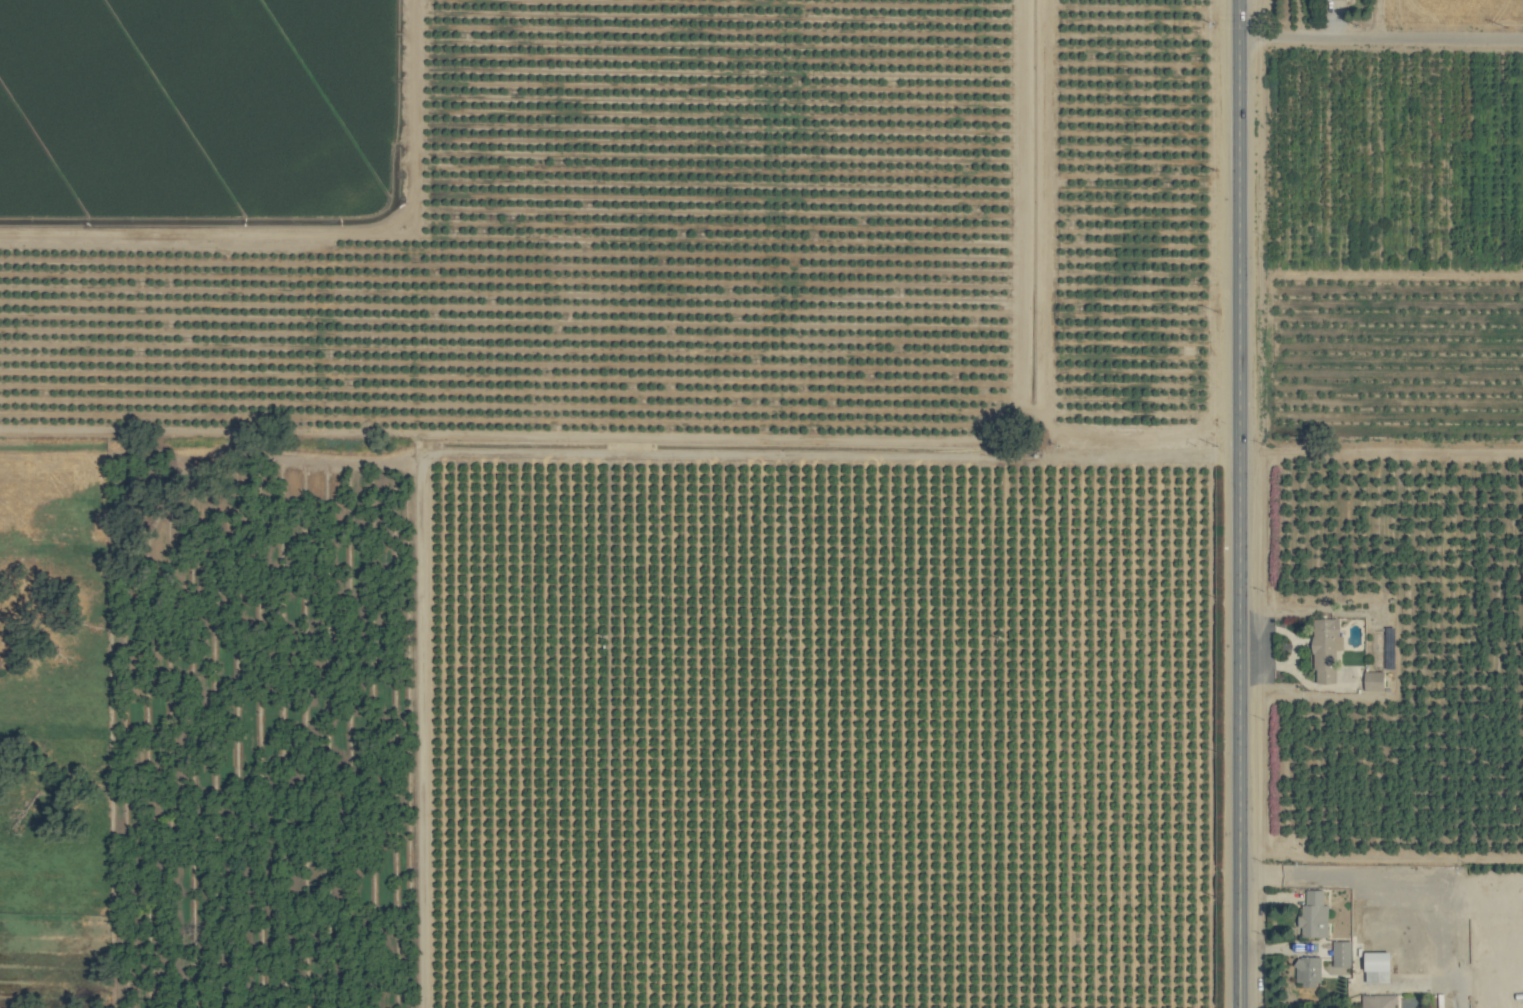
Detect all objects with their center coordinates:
crop: (1391, 12)
road: (1380, 37)
road: (1238, 407)
road: (1380, 452)
crop: (761, 504)
building: (1327, 649)
building: (1374, 681)
road: (1390, 885)
road: (1239, 911)
building: (1315, 915)
building: (1342, 953)
building: (1378, 963)
building: (1309, 973)
building: (1378, 1001)

